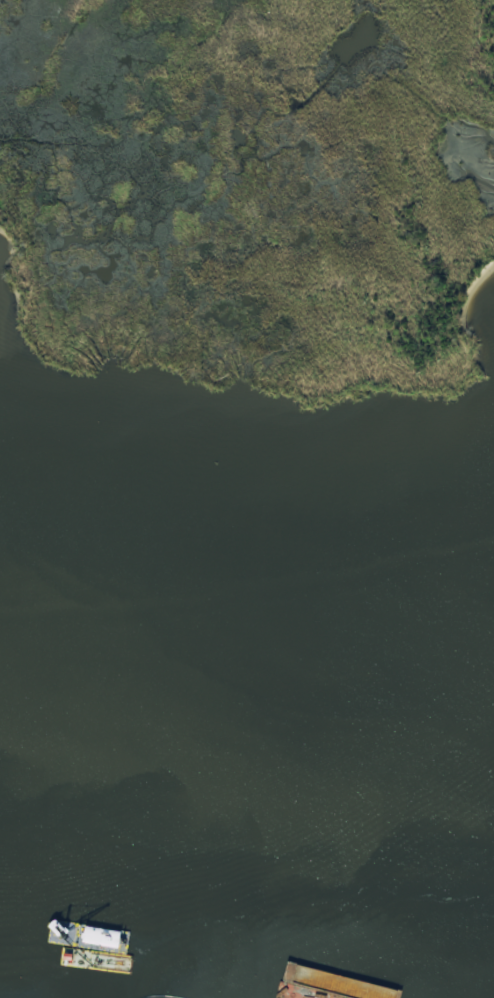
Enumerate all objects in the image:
river: (244, 828)

